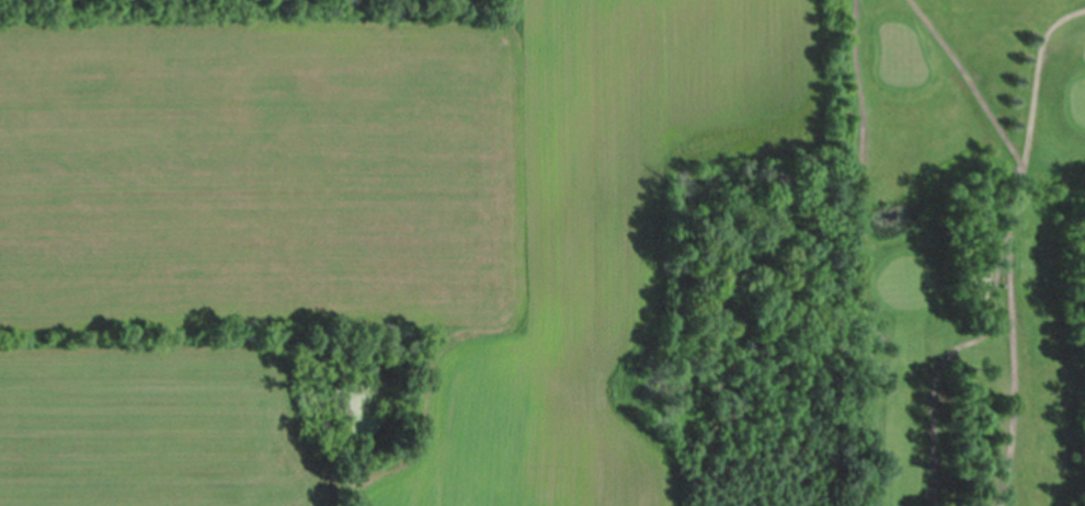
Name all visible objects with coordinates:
park: (903, 57)
road: (976, 88)
park: (1078, 100)
road: (860, 208)
road: (1014, 245)
park: (962, 252)
park: (909, 281)
road: (963, 343)

